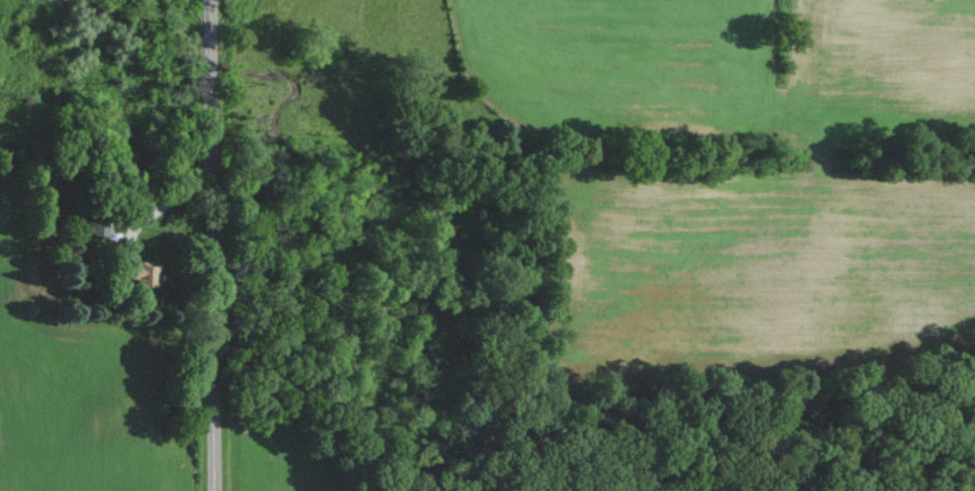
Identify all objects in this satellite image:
road: (170, 197)
road: (216, 245)
building: (144, 276)

